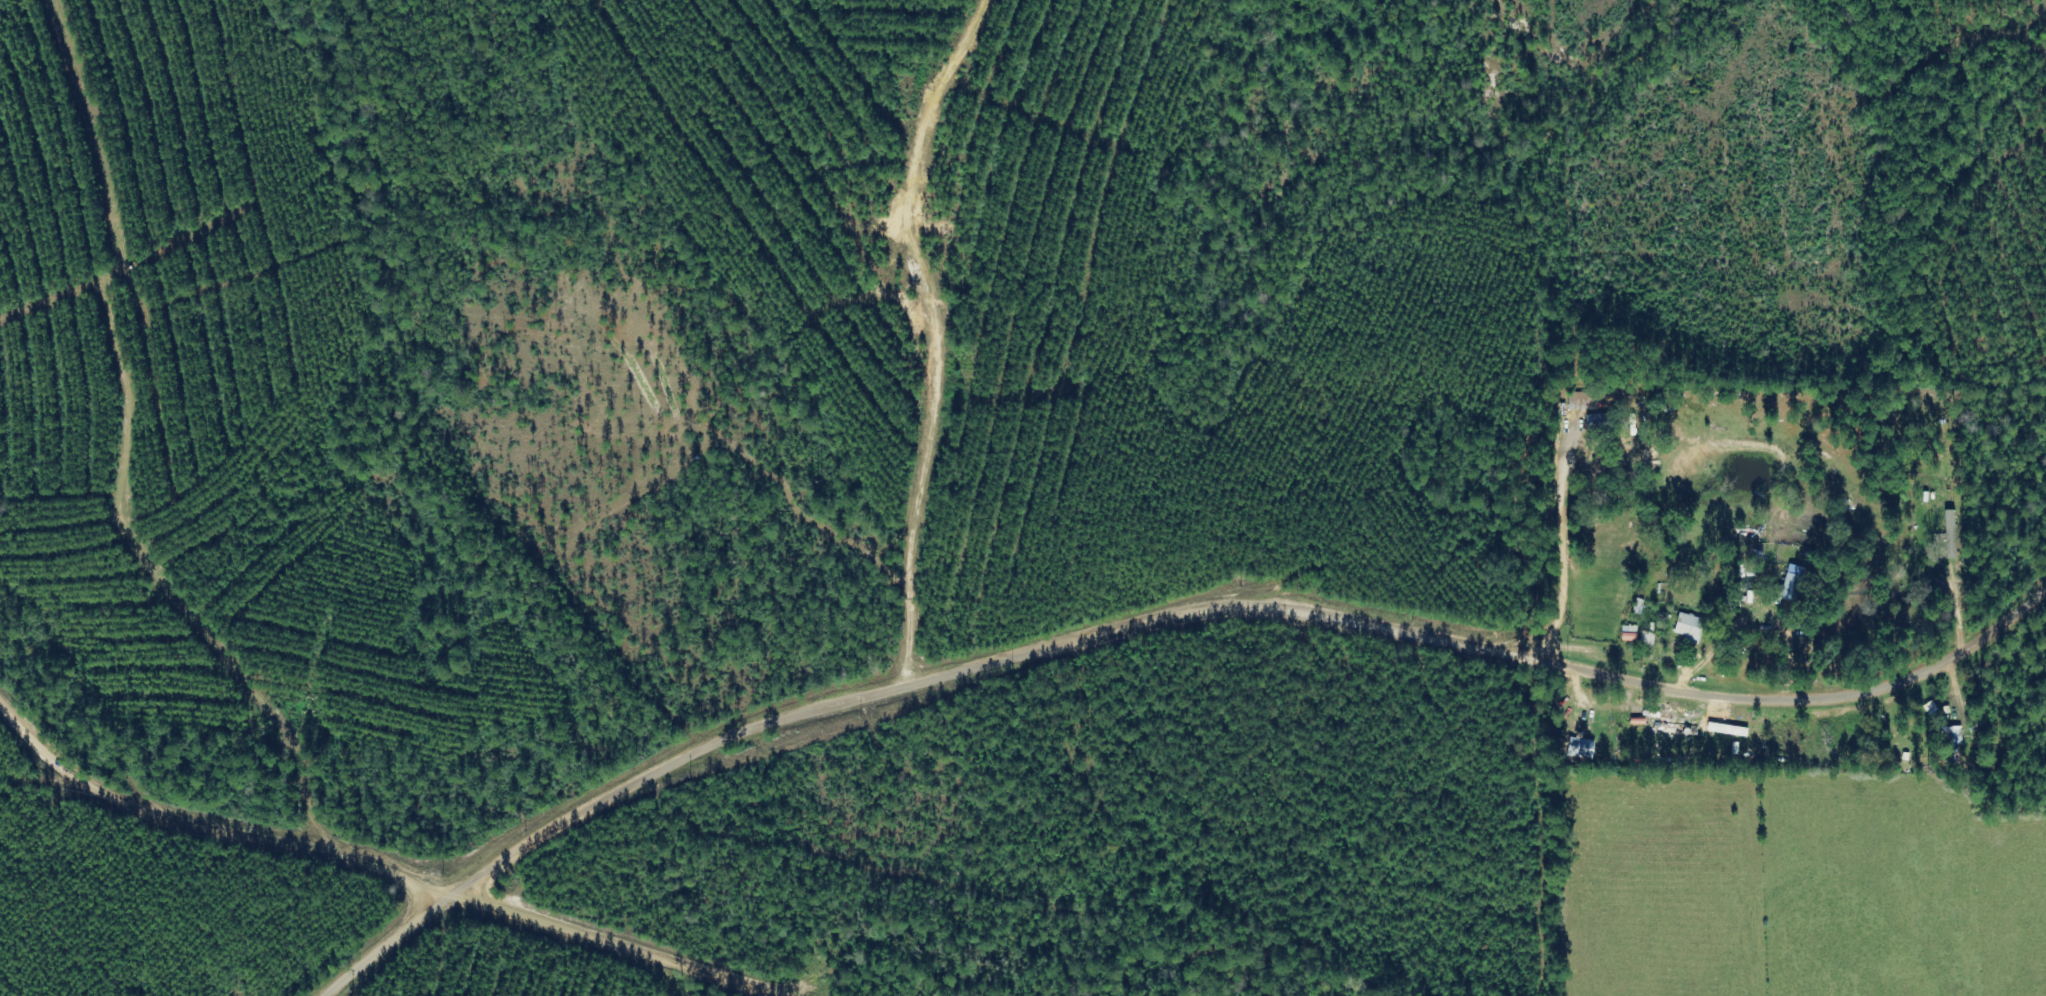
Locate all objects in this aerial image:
road: (865, 341)
building: (1581, 401)
building: (1607, 425)
building: (1798, 583)
road: (1139, 620)
building: (1694, 627)
building: (1681, 729)
building: (1960, 735)
building: (1585, 748)
road: (373, 876)

